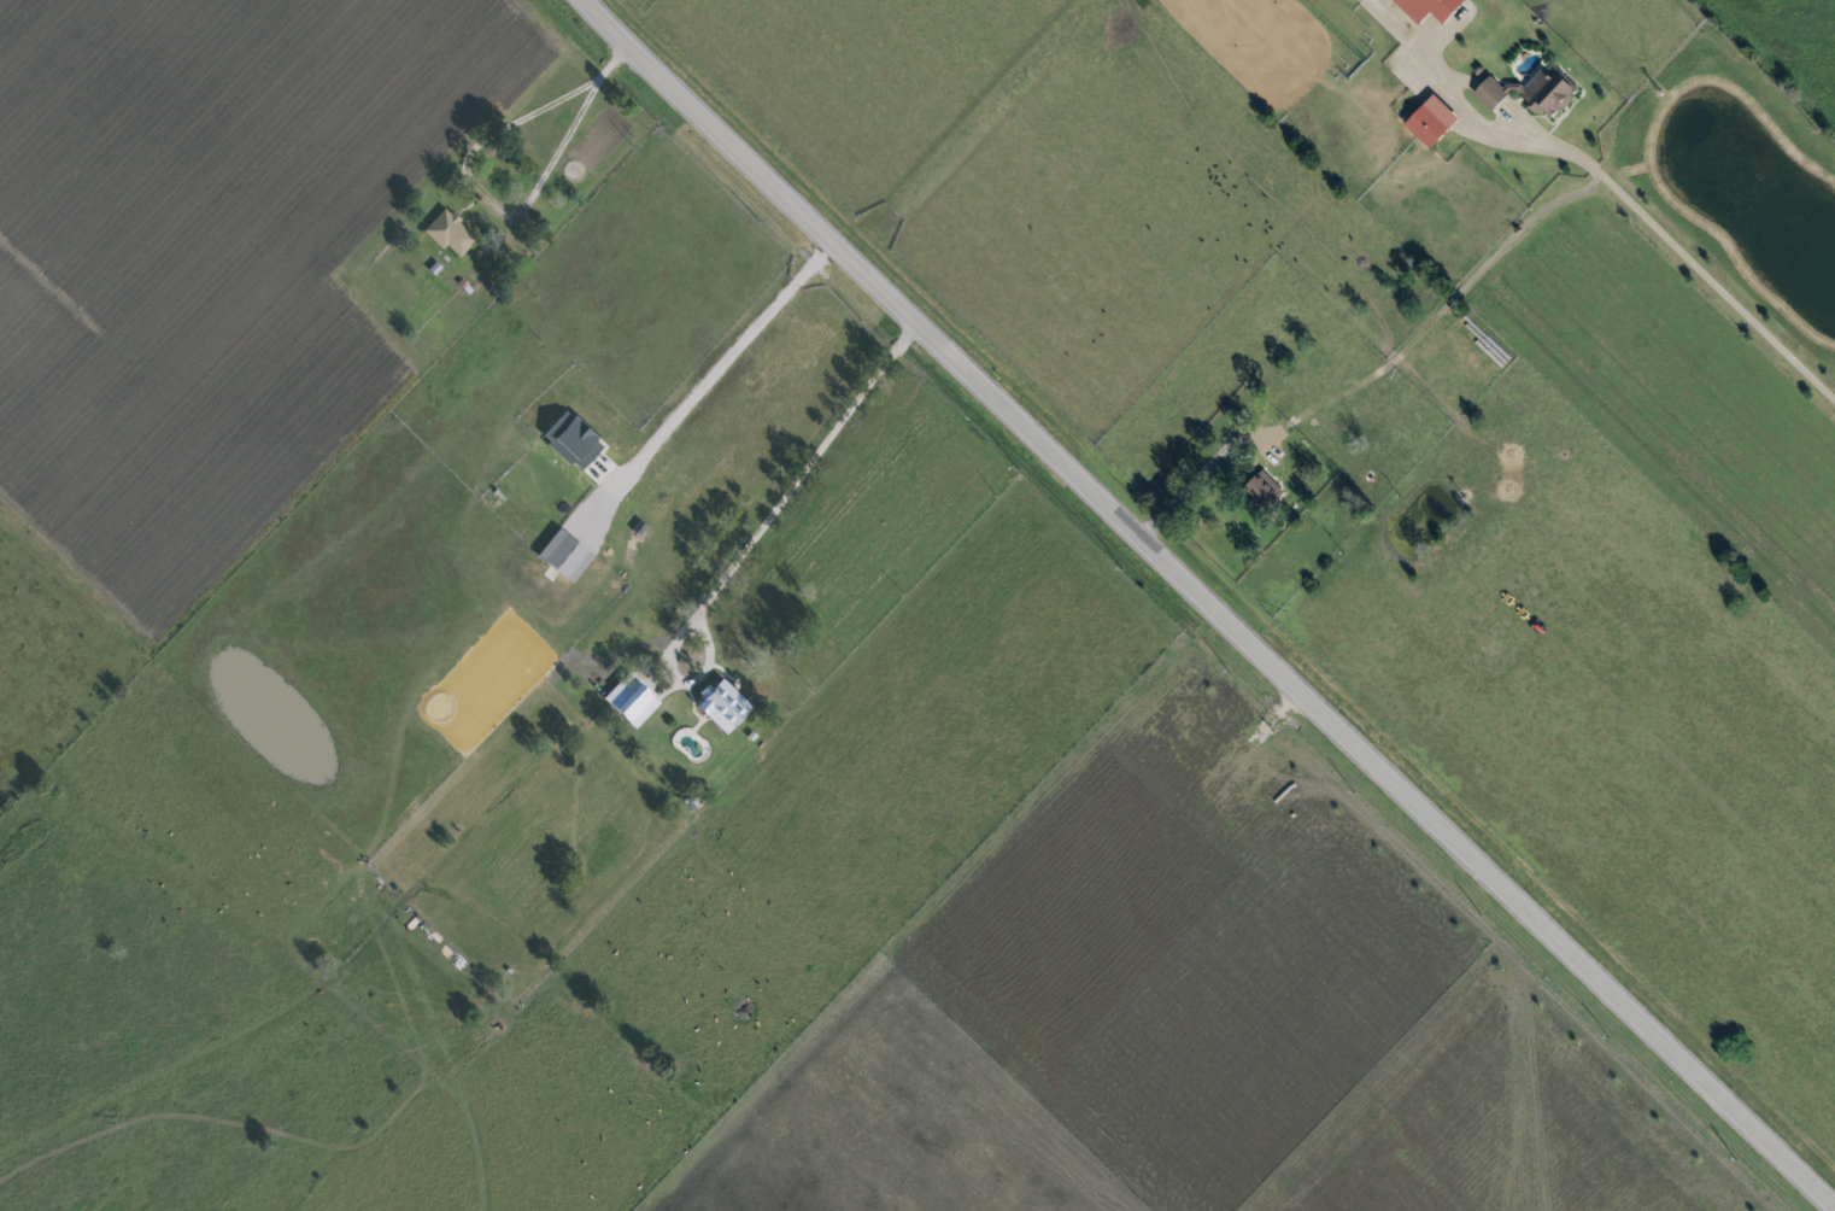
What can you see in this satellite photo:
building: (1432, 8)
building: (1535, 92)
building: (1434, 121)
road: (499, 206)
building: (450, 232)
road: (1694, 265)
road: (719, 365)
building: (574, 440)
road: (1204, 476)
building: (1265, 487)
road: (755, 538)
building: (567, 554)
road: (1204, 604)
building: (632, 698)
building: (725, 706)

